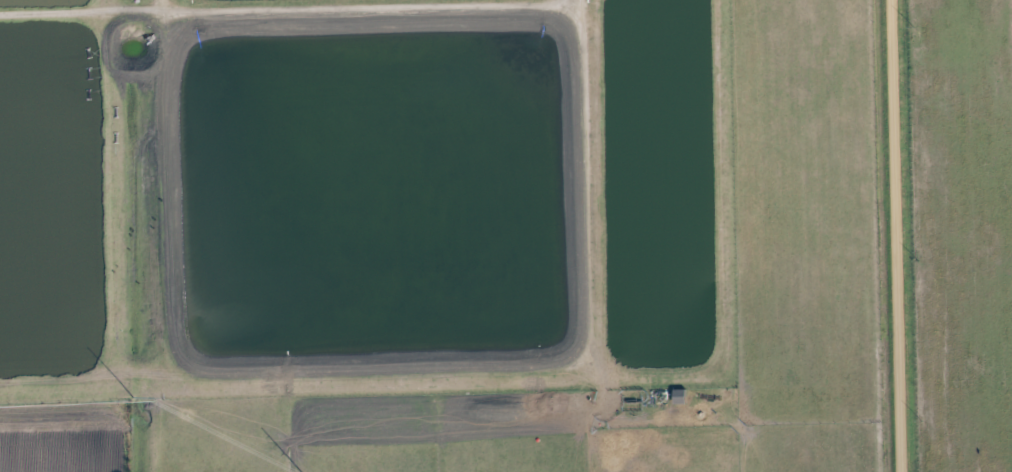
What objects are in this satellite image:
road: (899, 236)

